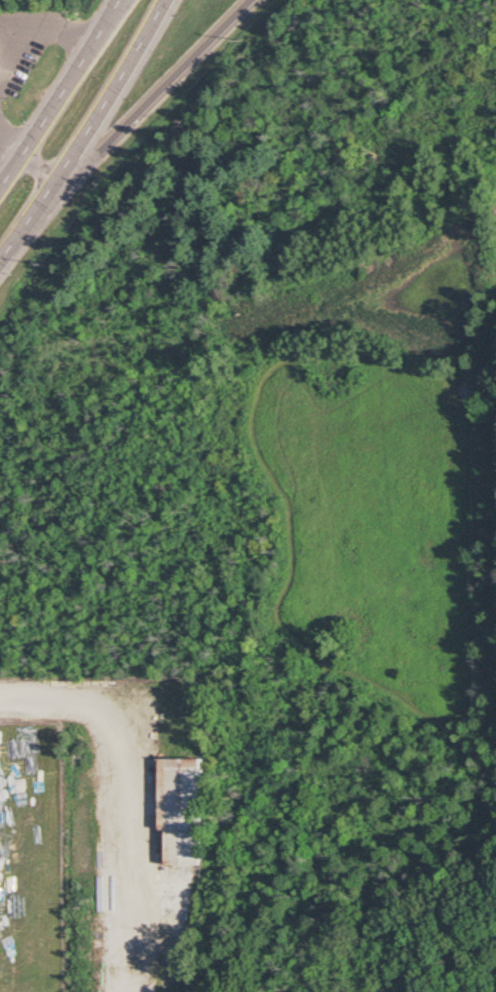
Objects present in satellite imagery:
road: (17, 29)
road: (37, 33)
road: (114, 91)
road: (159, 94)
road: (60, 95)
road: (11, 149)
road: (41, 171)
road: (30, 223)
road: (493, 348)
road: (296, 381)
park: (292, 479)
road: (288, 503)
road: (123, 734)
building: (182, 809)
road: (460, 973)

